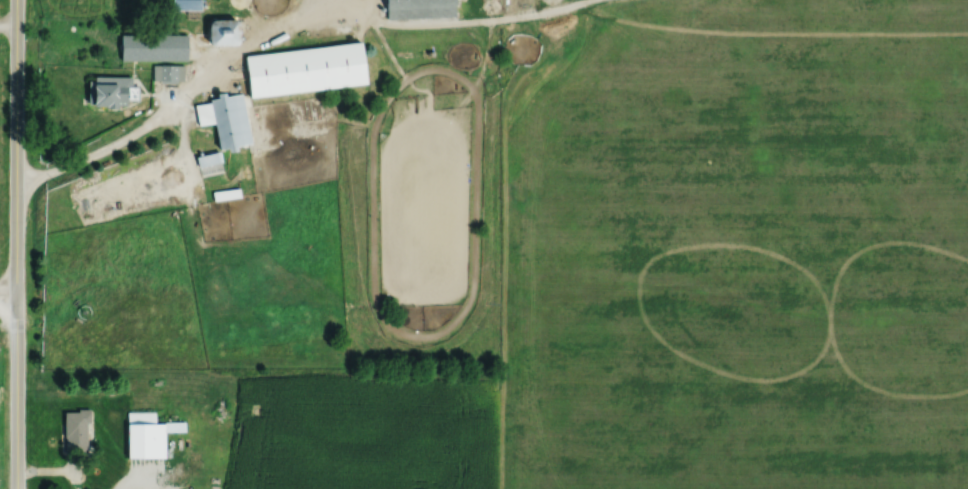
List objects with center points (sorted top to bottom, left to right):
building: (421, 8)
road: (8, 26)
building: (225, 32)
building: (154, 47)
building: (306, 69)
building: (168, 73)
building: (110, 91)
road: (185, 91)
building: (226, 120)
building: (208, 159)
road: (17, 244)
road: (8, 302)
building: (77, 432)
building: (149, 436)

